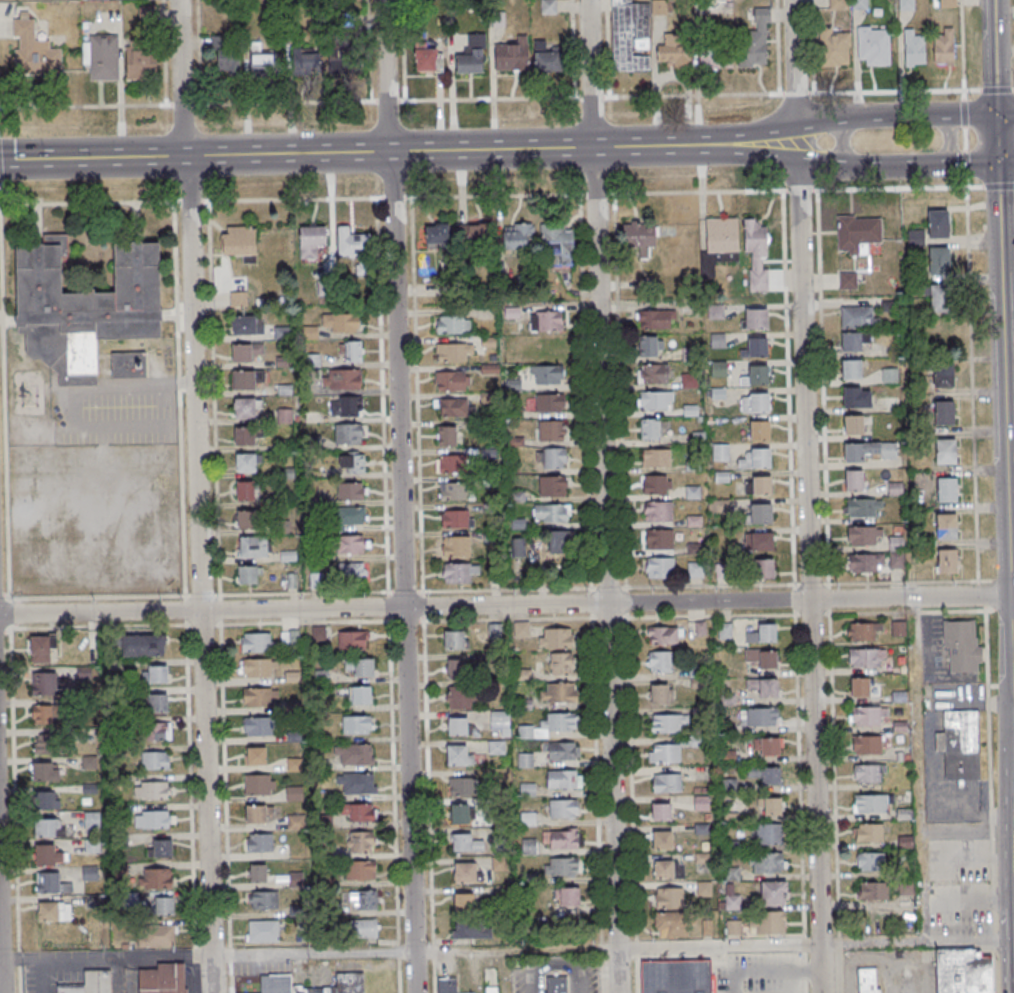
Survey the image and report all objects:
building: (82, 0)
building: (947, 3)
building: (837, 4)
building: (860, 4)
building: (906, 4)
building: (633, 33)
building: (755, 41)
building: (873, 45)
building: (33, 48)
building: (835, 48)
building: (914, 48)
building: (944, 48)
road: (960, 50)
building: (678, 51)
building: (472, 54)
building: (511, 54)
building: (103, 56)
building: (339, 56)
building: (715, 57)
building: (546, 58)
building: (428, 59)
building: (305, 60)
building: (228, 62)
building: (262, 63)
building: (140, 64)
road: (994, 90)
road: (1012, 90)
road: (848, 93)
road: (963, 113)
traffic signals: (996, 113)
road: (934, 114)
road: (826, 122)
road: (759, 137)
road: (963, 139)
road: (948, 140)
road: (841, 141)
road: (453, 150)
road: (760, 153)
road: (92, 158)
road: (964, 165)
traffic signals: (997, 165)
road: (905, 166)
road: (997, 187)
road: (1013, 187)
road: (491, 196)
building: (938, 223)
building: (857, 234)
building: (477, 235)
building: (639, 235)
building: (437, 236)
building: (519, 236)
building: (311, 241)
building: (239, 242)
building: (719, 242)
building: (351, 244)
building: (559, 245)
building: (757, 254)
building: (939, 261)
building: (848, 280)
building: (941, 298)
road: (191, 305)
building: (85, 308)
building: (859, 317)
building: (654, 318)
building: (756, 318)
building: (546, 321)
building: (340, 323)
building: (453, 324)
building: (244, 326)
building: (942, 330)
building: (853, 341)
building: (649, 346)
building: (755, 348)
building: (350, 351)
building: (454, 352)
building: (244, 353)
building: (129, 367)
building: (851, 369)
building: (653, 373)
building: (547, 375)
building: (756, 375)
building: (943, 375)
building: (889, 376)
building: (345, 379)
building: (243, 380)
building: (450, 380)
road: (970, 381)
road: (72, 396)
building: (857, 398)
building: (655, 400)
building: (550, 402)
building: (754, 402)
building: (890, 404)
building: (345, 405)
road: (1004, 405)
building: (455, 407)
building: (246, 408)
building: (944, 412)
building: (853, 425)
building: (653, 428)
building: (551, 430)
building: (759, 430)
building: (348, 433)
building: (446, 435)
building: (244, 436)
building: (869, 451)
building: (946, 451)
building: (720, 452)
building: (656, 457)
building: (553, 458)
building: (755, 459)
building: (246, 462)
building: (351, 462)
building: (451, 463)
building: (854, 480)
building: (657, 484)
building: (552, 485)
building: (758, 485)
building: (245, 490)
building: (946, 490)
building: (351, 491)
building: (453, 491)
road: (400, 496)
road: (603, 496)
road: (807, 496)
building: (717, 506)
building: (863, 507)
building: (656, 511)
building: (551, 512)
building: (761, 514)
building: (351, 515)
building: (456, 518)
building: (245, 519)
building: (946, 527)
road: (421, 529)
road: (386, 533)
building: (864, 535)
building: (490, 537)
building: (659, 538)
building: (558, 541)
building: (758, 541)
building: (353, 544)
building: (454, 545)
building: (252, 546)
building: (518, 547)
building: (288, 555)
building: (896, 560)
building: (947, 561)
building: (866, 562)
building: (660, 567)
building: (761, 568)
building: (696, 569)
building: (351, 571)
building: (458, 572)
building: (247, 574)
building: (316, 579)
road: (1002, 581)
road: (704, 585)
road: (405, 590)
road: (302, 591)
road: (979, 595)
road: (607, 603)
road: (388, 605)
road: (423, 605)
road: (100, 613)
road: (404, 620)
road: (302, 622)
building: (898, 628)
building: (521, 629)
building: (725, 631)
building: (864, 631)
building: (495, 632)
building: (318, 633)
building: (762, 633)
building: (664, 635)
building: (289, 637)
building: (556, 637)
road: (1012, 638)
building: (454, 639)
building: (351, 640)
building: (257, 642)
building: (143, 645)
building: (963, 647)
building: (40, 652)
building: (762, 657)
building: (867, 658)
building: (660, 661)
building: (559, 663)
building: (359, 666)
building: (258, 668)
building: (455, 669)
building: (157, 674)
building: (763, 686)
building: (860, 687)
building: (558, 692)
building: (658, 694)
building: (358, 695)
building: (259, 697)
building: (459, 698)
building: (48, 703)
building: (157, 703)
building: (868, 715)
building: (499, 716)
building: (759, 716)
road: (1013, 722)
building: (668, 723)
building: (356, 724)
building: (548, 725)
building: (255, 726)
building: (456, 726)
building: (158, 731)
building: (695, 742)
building: (867, 744)
building: (959, 744)
building: (46, 746)
building: (766, 746)
building: (495, 747)
building: (561, 751)
building: (664, 753)
building: (355, 754)
building: (255, 756)
building: (458, 756)
building: (728, 756)
road: (930, 757)
building: (154, 760)
building: (525, 760)
building: (89, 762)
building: (294, 764)
parking lot: (934, 766)
road: (917, 771)
building: (45, 772)
building: (869, 773)
building: (765, 774)
building: (563, 778)
building: (667, 782)
building: (360, 783)
building: (259, 784)
building: (462, 787)
building: (90, 788)
building: (151, 789)
building: (294, 793)
road: (991, 799)
building: (44, 800)
road: (207, 802)
building: (701, 803)
building: (872, 803)
road: (393, 804)
building: (769, 806)
building: (563, 808)
building: (661, 811)
building: (359, 813)
building: (256, 814)
building: (459, 814)
building: (904, 814)
building: (92, 819)
building: (156, 819)
building: (296, 822)
building: (47, 828)
building: (868, 832)
building: (769, 834)
building: (560, 838)
building: (661, 840)
building: (259, 842)
building: (360, 842)
building: (465, 843)
building: (160, 848)
building: (48, 855)
building: (871, 861)
building: (500, 863)
building: (767, 863)
building: (562, 866)
building: (360, 870)
building: (666, 870)
building: (90, 873)
building: (257, 873)
building: (465, 873)
building: (156, 878)
building: (296, 880)
building: (51, 883)
building: (870, 891)
building: (773, 894)
building: (566, 896)
building: (669, 898)
building: (264, 900)
building: (363, 900)
building: (463, 901)
building: (163, 906)
building: (53, 912)
building: (768, 923)
building: (671, 925)
building: (365, 928)
building: (471, 929)
building: (263, 931)
building: (157, 936)
road: (815, 946)
road: (515, 951)
road: (312, 954)
road: (106, 957)
building: (964, 971)
road: (767, 972)
road: (44, 975)
road: (117, 975)
building: (675, 977)
building: (163, 979)
building: (869, 980)
building: (276, 981)
road: (795, 982)
building: (90, 983)
building: (557, 985)
building: (447, 986)

